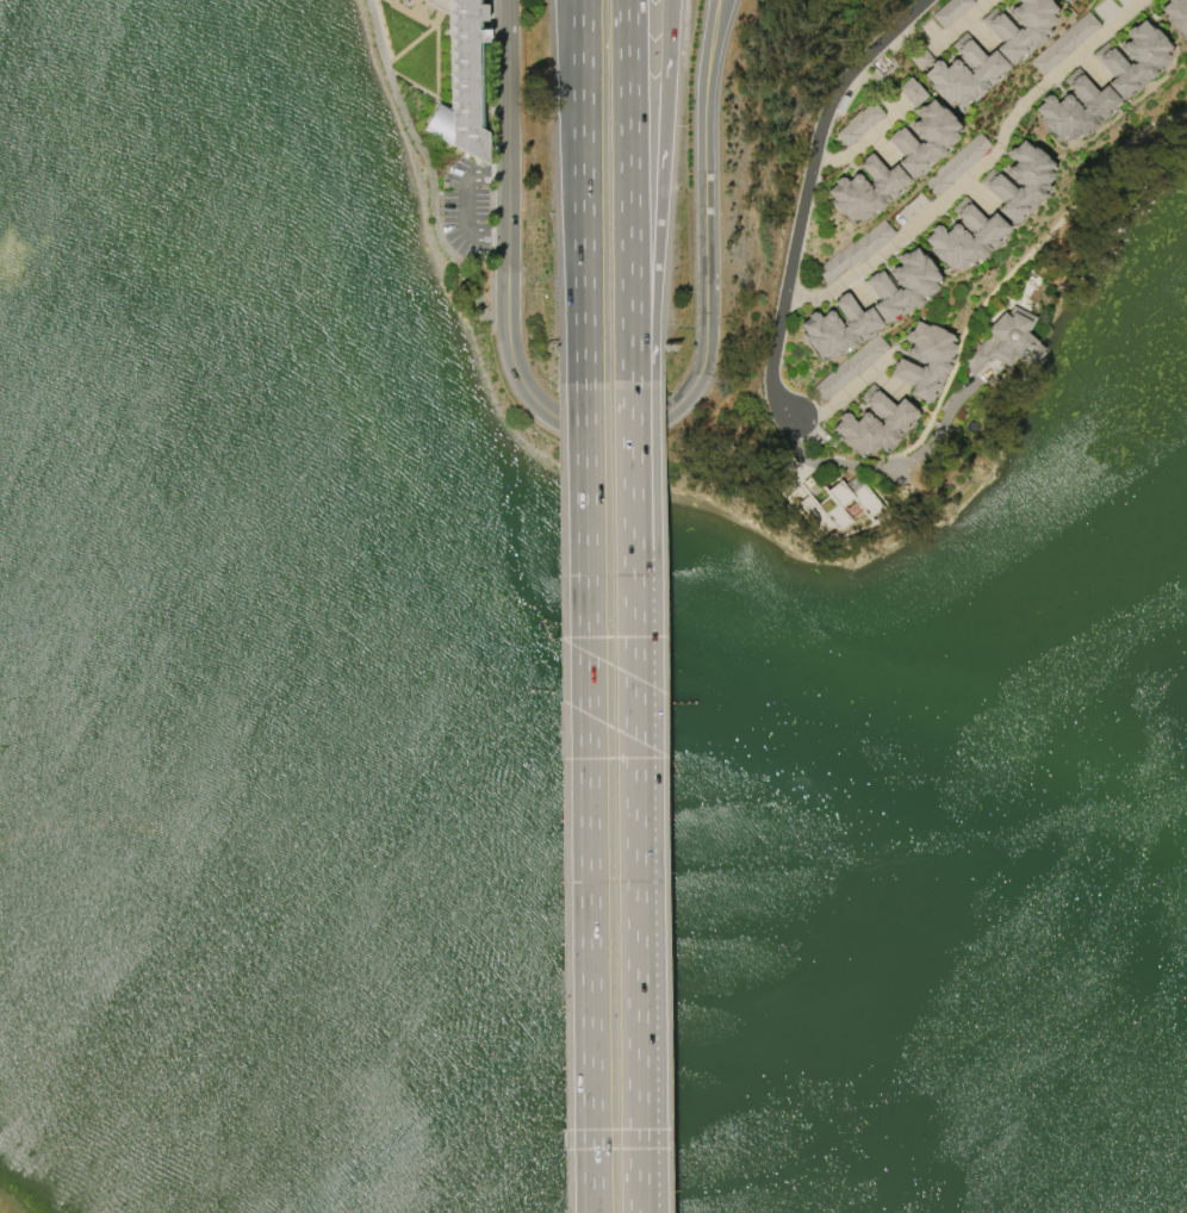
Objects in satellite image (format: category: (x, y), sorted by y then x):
building: (1061, 0)
building: (950, 11)
building: (1176, 15)
road: (714, 32)
building: (1017, 32)
building: (1064, 43)
road: (1090, 43)
building: (1132, 58)
building: (963, 73)
building: (460, 82)
building: (908, 92)
building: (1075, 107)
road: (1015, 112)
building: (854, 124)
road: (505, 135)
building: (921, 138)
building: (957, 163)
road: (427, 172)
building: (1018, 181)
building: (863, 188)
road: (629, 189)
road: (582, 191)
road: (661, 192)
road: (806, 193)
road: (464, 205)
road: (706, 222)
road: (897, 235)
building: (963, 236)
building: (853, 251)
building: (901, 285)
road: (509, 305)
building: (837, 326)
building: (1006, 342)
building: (925, 360)
building: (850, 367)
road: (846, 393)
building: (874, 423)
road: (590, 429)
road: (893, 466)
building: (857, 502)
road: (588, 797)
road: (634, 797)

